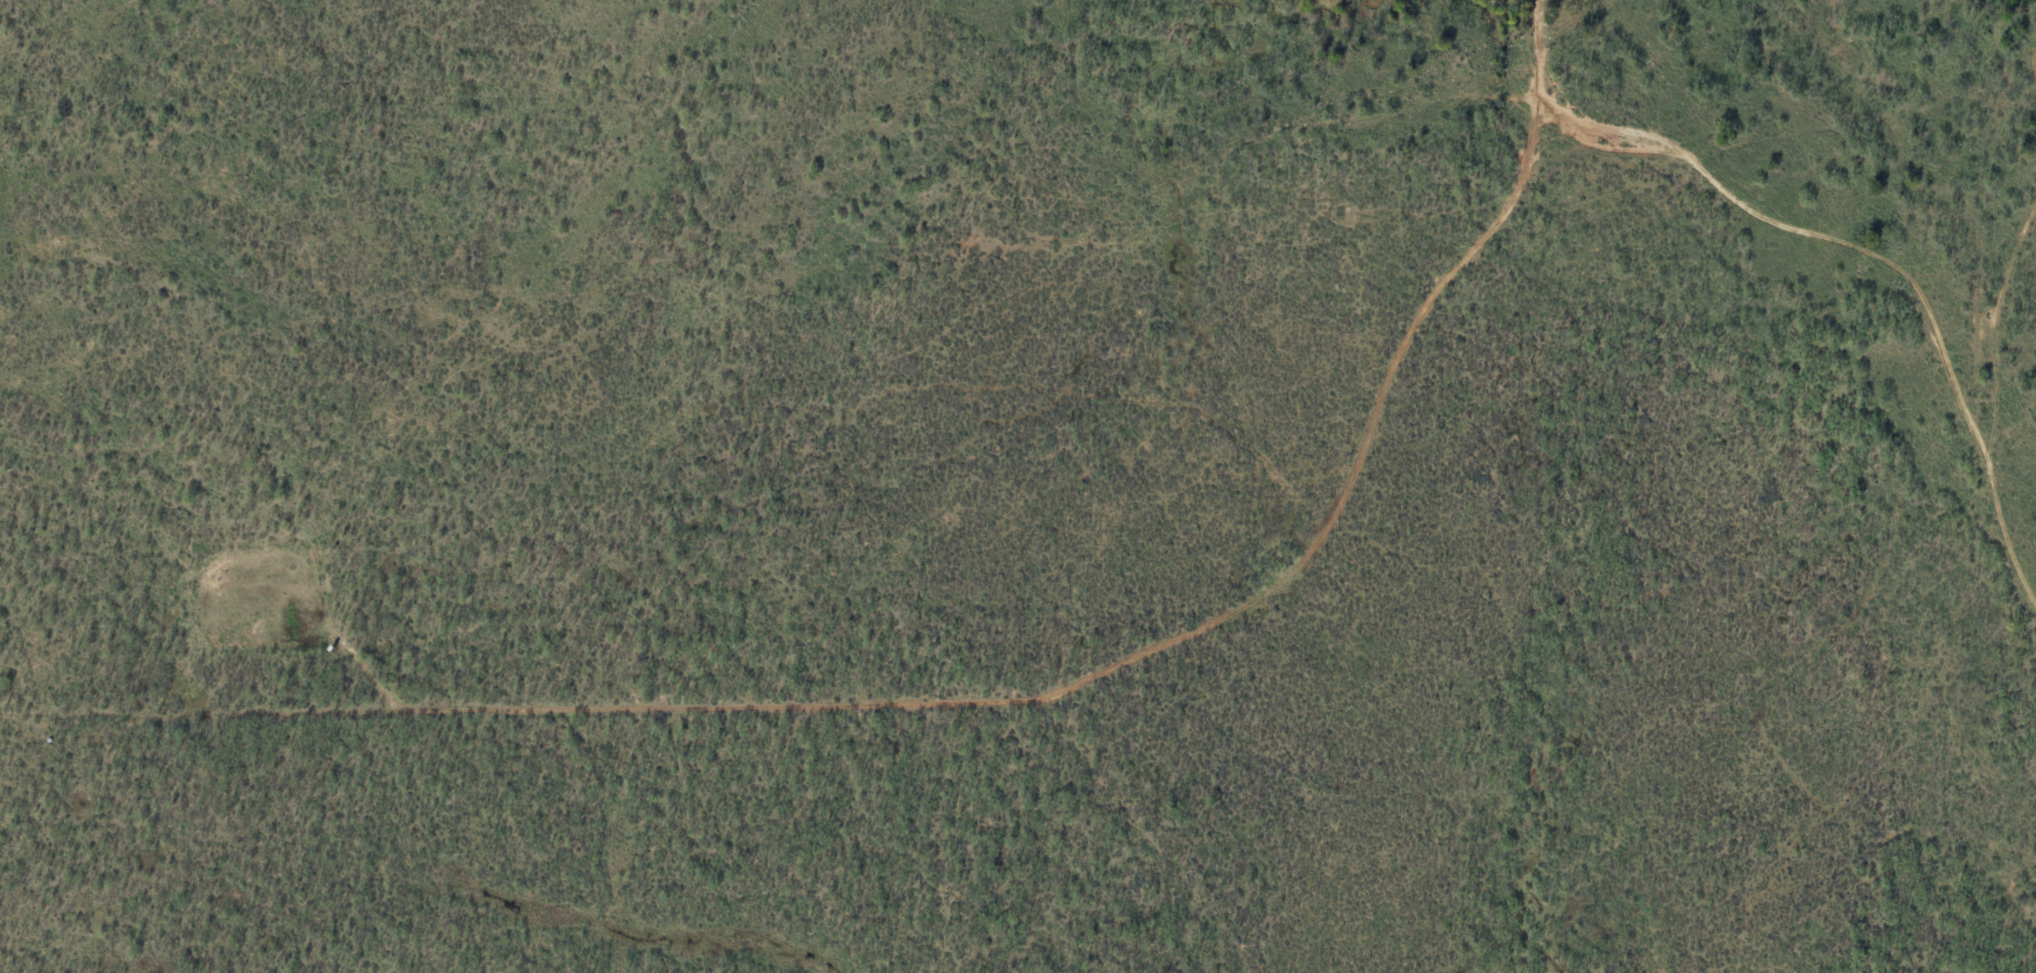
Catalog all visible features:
road: (1940, 333)

